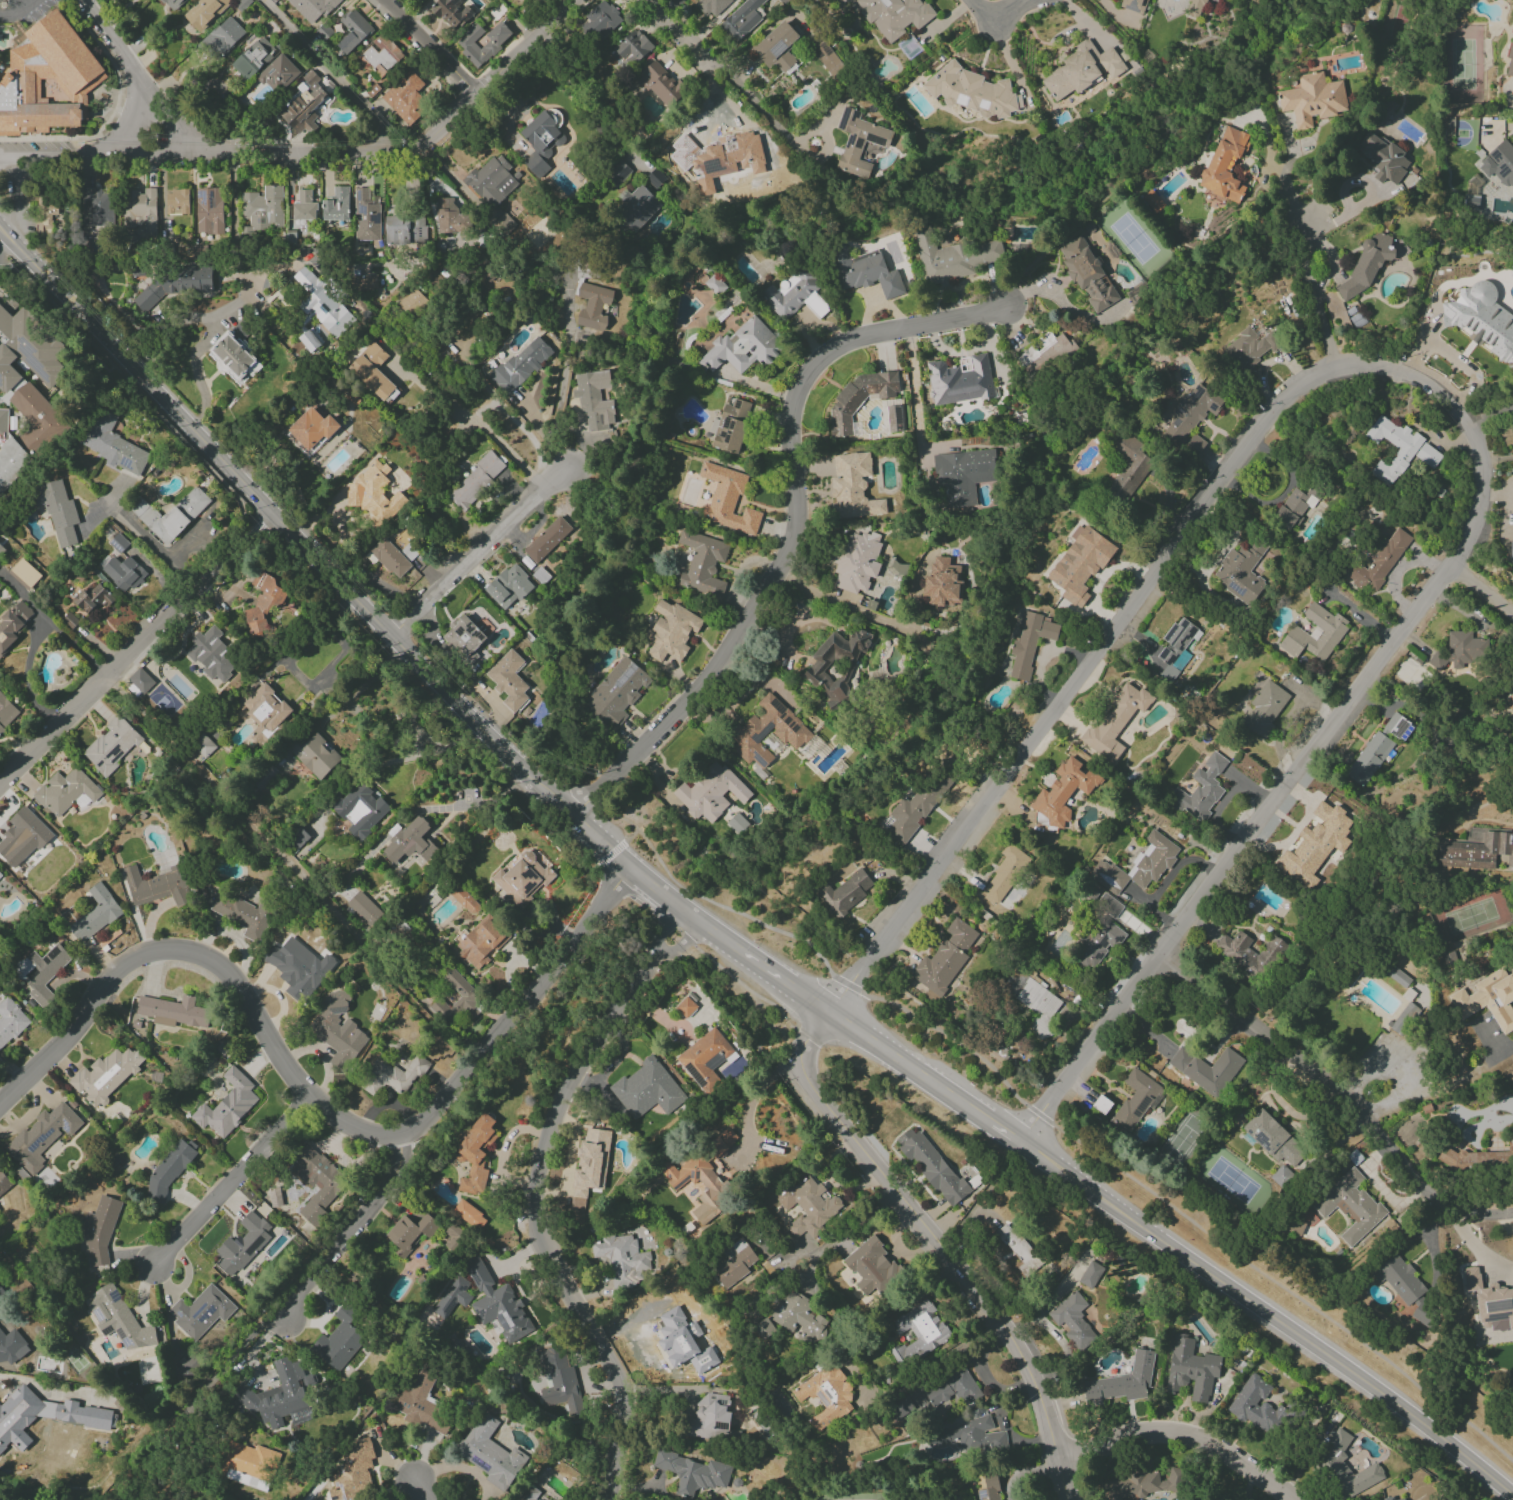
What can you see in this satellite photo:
building: (173, 4)
building: (1134, 5)
building: (712, 6)
building: (1195, 6)
road: (16, 8)
building: (312, 8)
building: (205, 12)
building: (452, 13)
building: (894, 16)
building: (602, 20)
building: (741, 20)
road: (997, 22)
building: (353, 30)
road: (680, 32)
building: (224, 36)
building: (482, 43)
road: (115, 46)
road: (433, 46)
road: (526, 46)
building: (633, 46)
building: (777, 46)
building: (381, 54)
building: (253, 58)
building: (827, 58)
building: (1510, 60)
road: (328, 70)
building: (1082, 70)
building: (57, 72)
building: (277, 74)
building: (658, 85)
building: (970, 91)
building: (405, 97)
building: (1312, 99)
building: (305, 106)
road: (113, 110)
road: (763, 110)
road: (130, 122)
road: (176, 125)
road: (1132, 133)
building: (542, 139)
building: (860, 142)
road: (248, 154)
building: (1383, 158)
building: (1225, 164)
building: (1499, 164)
building: (618, 173)
building: (490, 182)
road: (1289, 200)
building: (1152, 201)
building: (176, 202)
building: (1471, 202)
building: (336, 205)
building: (304, 206)
building: (637, 206)
building: (97, 208)
building: (263, 209)
building: (140, 210)
building: (209, 211)
building: (45, 215)
building: (366, 216)
building: (451, 216)
building: (405, 229)
road: (5, 245)
building: (954, 258)
building: (1366, 265)
building: (1512, 270)
building: (1088, 271)
building: (864, 272)
building: (363, 282)
building: (175, 284)
building: (715, 284)
road: (1314, 294)
building: (795, 295)
building: (322, 303)
road: (242, 304)
building: (593, 306)
road: (193, 319)
building: (1481, 319)
building: (310, 340)
building: (741, 348)
building: (1250, 348)
building: (1044, 352)
building: (235, 358)
building: (521, 364)
building: (372, 371)
road: (564, 373)
building: (959, 381)
road: (912, 388)
building: (24, 395)
building: (859, 398)
building: (594, 399)
road: (1490, 414)
building: (1191, 418)
building: (731, 425)
road: (477, 426)
building: (312, 430)
building: (113, 445)
road: (208, 447)
building: (1399, 449)
building: (1130, 466)
building: (963, 475)
building: (475, 481)
building: (853, 487)
building: (374, 494)
building: (727, 500)
building: (1294, 507)
building: (58, 511)
building: (170, 514)
road: (793, 526)
building: (547, 539)
building: (1511, 549)
building: (2, 550)
road: (161, 551)
road: (477, 551)
building: (389, 558)
road: (295, 560)
building: (856, 562)
building: (1380, 562)
building: (702, 564)
building: (1081, 564)
building: (896, 568)
building: (1241, 572)
building: (123, 573)
building: (24, 574)
building: (942, 583)
building: (509, 587)
road: (1482, 591)
road: (188, 593)
building: (93, 599)
building: (266, 604)
road: (843, 605)
building: (69, 620)
building: (14, 624)
road: (34, 631)
building: (670, 631)
building: (1315, 633)
building: (464, 638)
building: (1176, 640)
building: (1029, 642)
building: (1460, 650)
building: (210, 654)
building: (836, 665)
road: (292, 671)
building: (141, 680)
building: (508, 680)
road: (1074, 680)
road: (361, 687)
building: (616, 692)
building: (1510, 703)
building: (264, 708)
building: (1264, 709)
building: (7, 713)
road: (481, 723)
building: (1115, 723)
building: (1398, 727)
road: (53, 729)
building: (768, 731)
road: (1327, 734)
building: (113, 744)
building: (316, 756)
building: (1368, 759)
building: (265, 777)
road: (210, 783)
building: (1201, 789)
building: (65, 791)
building: (710, 792)
building: (1062, 793)
road: (555, 801)
building: (916, 807)
building: (361, 809)
road: (631, 835)
building: (23, 837)
building: (411, 841)
building: (1477, 852)
road: (609, 853)
building: (1137, 865)
road: (630, 870)
building: (1003, 873)
building: (0, 874)
building: (522, 878)
building: (158, 886)
building: (845, 893)
building: (1108, 905)
road: (613, 906)
building: (364, 909)
building: (96, 914)
building: (241, 914)
road: (626, 915)
road: (650, 935)
building: (480, 943)
building: (1097, 943)
building: (1250, 954)
road: (205, 957)
building: (945, 958)
building: (1449, 958)
road: (760, 966)
building: (298, 968)
building: (42, 972)
building: (1396, 976)
building: (458, 999)
building: (1487, 1000)
building: (1033, 1002)
building: (685, 1007)
building: (173, 1011)
road: (518, 1011)
building: (1403, 1018)
building: (10, 1021)
building: (337, 1030)
road: (1490, 1042)
building: (704, 1057)
road: (899, 1061)
building: (1206, 1069)
road: (1306, 1072)
building: (105, 1075)
building: (392, 1076)
building: (646, 1089)
road: (755, 1098)
building: (1135, 1100)
building: (227, 1105)
road: (1049, 1121)
road: (996, 1127)
building: (41, 1137)
building: (1273, 1139)
building: (475, 1154)
building: (592, 1159)
building: (1479, 1160)
building: (931, 1165)
building: (169, 1170)
building: (704, 1176)
road: (1075, 1181)
road: (228, 1182)
building: (318, 1182)
building: (4, 1183)
road: (534, 1195)
building: (808, 1205)
building: (1350, 1206)
road: (1473, 1211)
building: (469, 1215)
building: (99, 1231)
road: (348, 1231)
building: (410, 1233)
road: (849, 1236)
road: (1460, 1240)
building: (242, 1244)
road: (934, 1246)
building: (617, 1258)
building: (734, 1263)
building: (871, 1267)
building: (1090, 1275)
building: (1405, 1288)
building: (453, 1297)
building: (1490, 1301)
building: (497, 1304)
building: (201, 1312)
building: (799, 1318)
building: (117, 1319)
building: (1072, 1320)
building: (764, 1330)
building: (919, 1332)
building: (339, 1340)
building: (683, 1342)
road: (1324, 1352)
building: (7, 1356)
building: (185, 1368)
building: (1191, 1369)
road: (982, 1374)
building: (558, 1378)
building: (1121, 1383)
building: (952, 1389)
building: (279, 1394)
building: (825, 1395)
building: (422, 1402)
building: (1257, 1406)
building: (81, 1414)
building: (709, 1418)
road: (1003, 1424)
road: (1179, 1436)
building: (970, 1439)
building: (490, 1453)
building: (1330, 1460)
building: (248, 1465)
building: (352, 1472)
building: (692, 1472)
road: (1022, 1473)
building: (1132, 1486)
building: (989, 1488)
building: (529, 1493)
road: (420, 1497)
building: (1388, 1498)
building: (1401, 1499)

